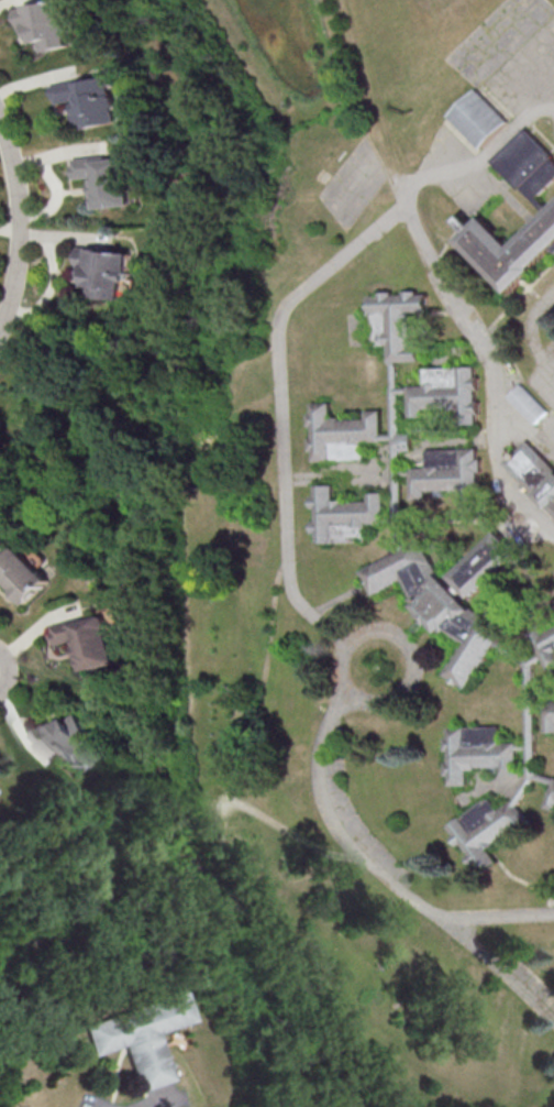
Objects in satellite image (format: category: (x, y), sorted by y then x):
building: (46, 24)
building: (90, 100)
building: (476, 118)
building: (527, 164)
building: (108, 179)
road: (27, 223)
building: (509, 246)
building: (106, 271)
road: (444, 284)
building: (395, 322)
road: (531, 330)
building: (444, 393)
building: (525, 403)
road: (284, 428)
road: (524, 431)
building: (341, 432)
building: (396, 454)
building: (533, 472)
building: (448, 474)
building: (344, 515)
building: (483, 563)
building: (23, 574)
building: (440, 606)
building: (91, 638)
building: (543, 642)
road: (7, 667)
building: (549, 715)
building: (527, 717)
building: (69, 739)
building: (479, 752)
building: (551, 797)
building: (488, 829)
road: (367, 850)
river: (187, 905)
building: (138, 1037)
road: (164, 1100)
road: (92, 1103)

